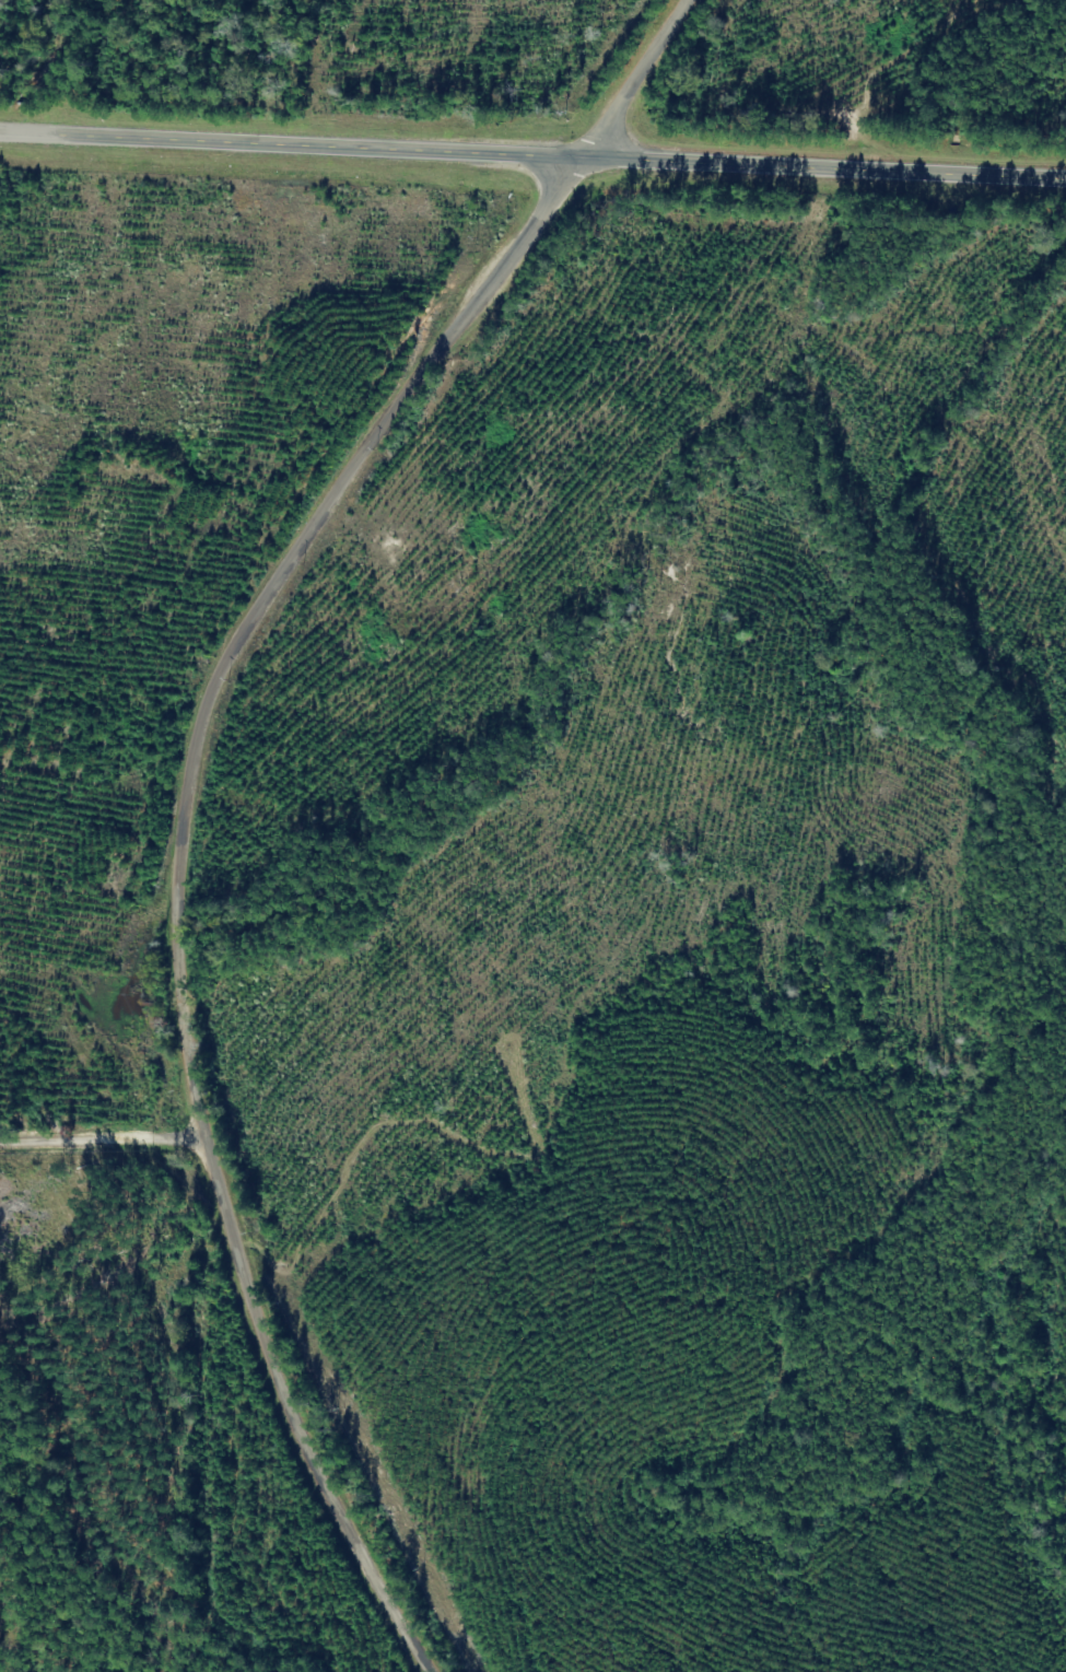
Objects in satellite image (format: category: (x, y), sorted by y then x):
road: (637, 78)
road: (532, 153)
road: (175, 878)
road: (104, 1134)

